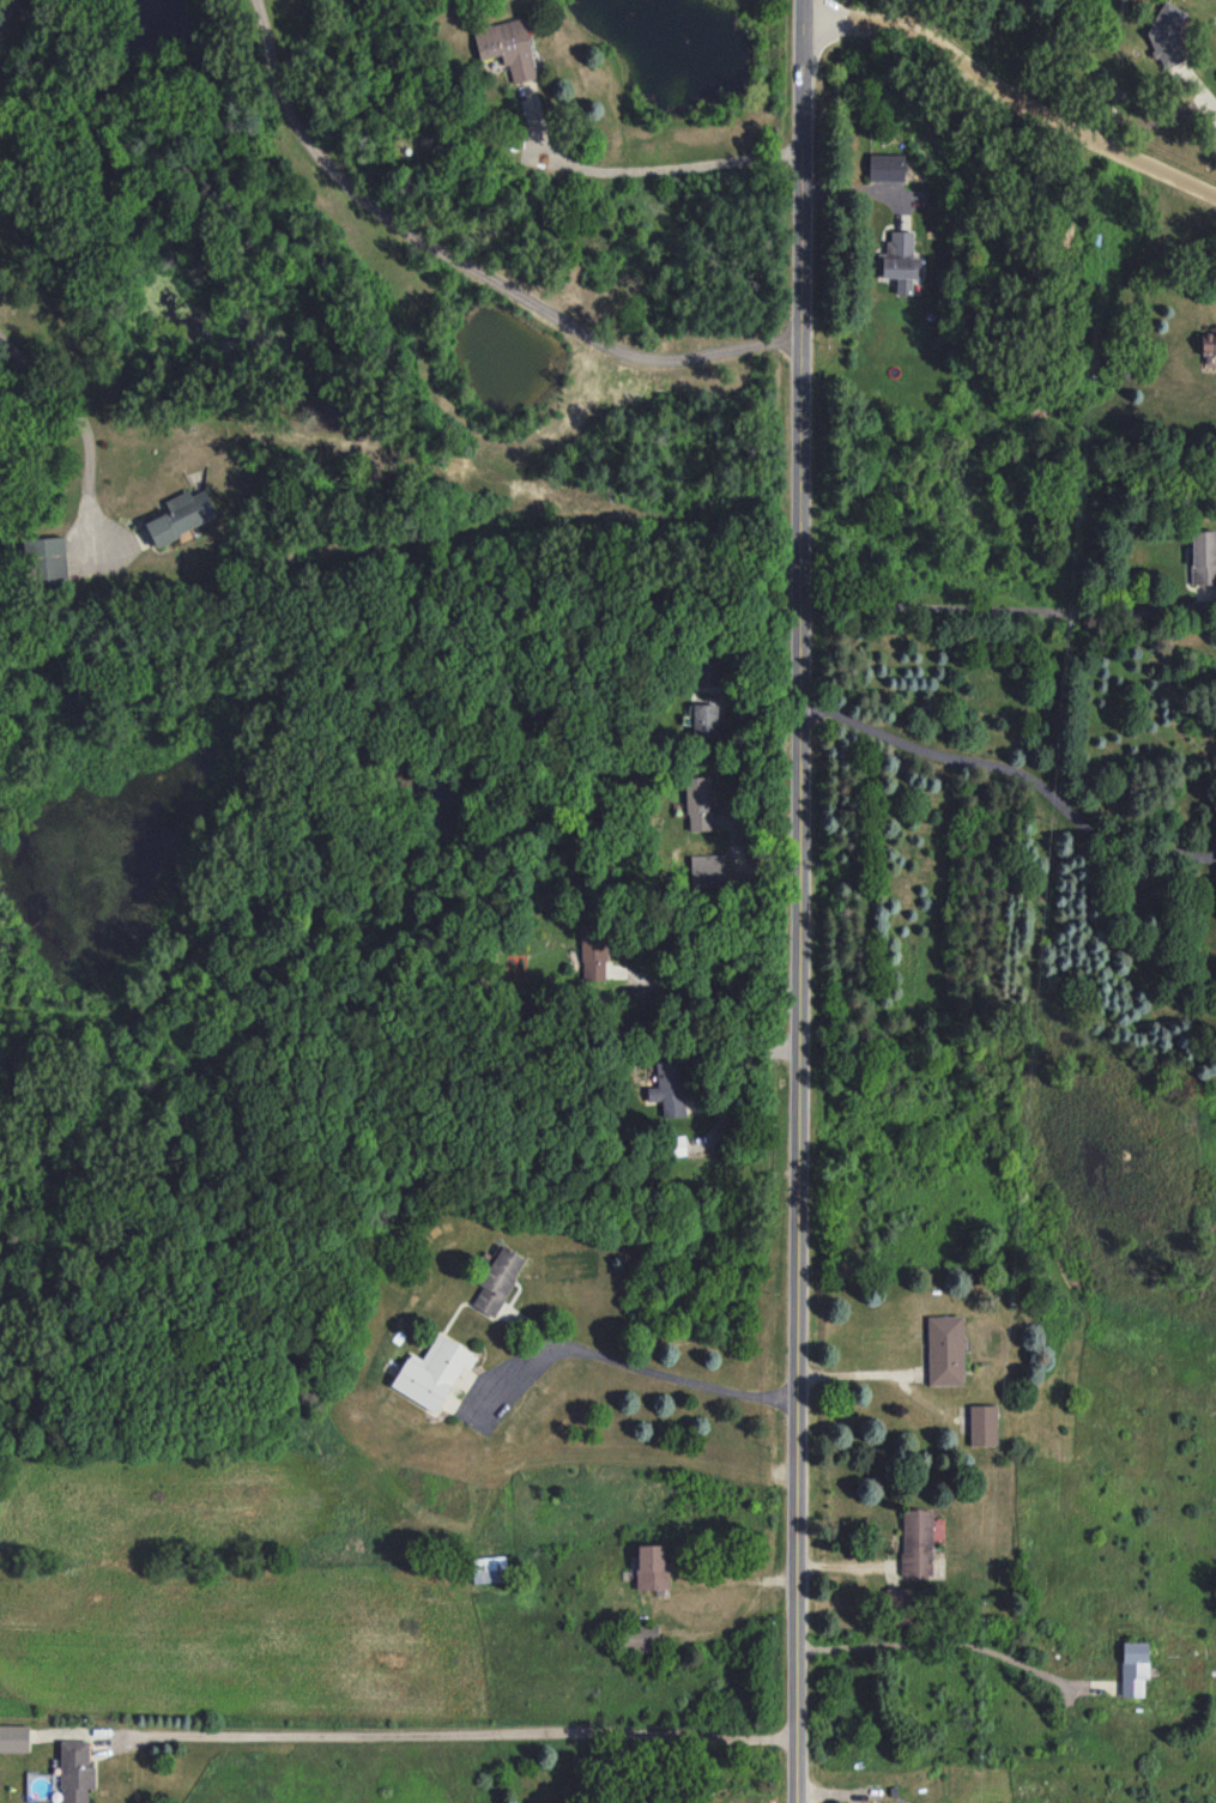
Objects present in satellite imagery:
road: (4, 14)
building: (1167, 34)
building: (507, 47)
road: (1015, 92)
road: (673, 167)
building: (885, 167)
building: (900, 261)
road: (476, 266)
building: (1209, 347)
road: (79, 426)
building: (181, 515)
building: (1203, 556)
building: (44, 561)
road: (994, 607)
building: (706, 674)
building: (704, 718)
road: (1015, 770)
building: (697, 803)
road: (800, 901)
road: (706, 985)
road: (738, 1060)
building: (669, 1088)
building: (678, 1145)
building: (498, 1279)
building: (945, 1350)
road: (860, 1373)
building: (436, 1374)
road: (667, 1375)
building: (982, 1424)
building: (916, 1542)
crop: (442, 1551)
building: (651, 1567)
building: (489, 1569)
building: (900, 1605)
building: (641, 1638)
road: (931, 1642)
building: (1133, 1668)
road: (450, 1731)
building: (13, 1738)
building: (75, 1771)

